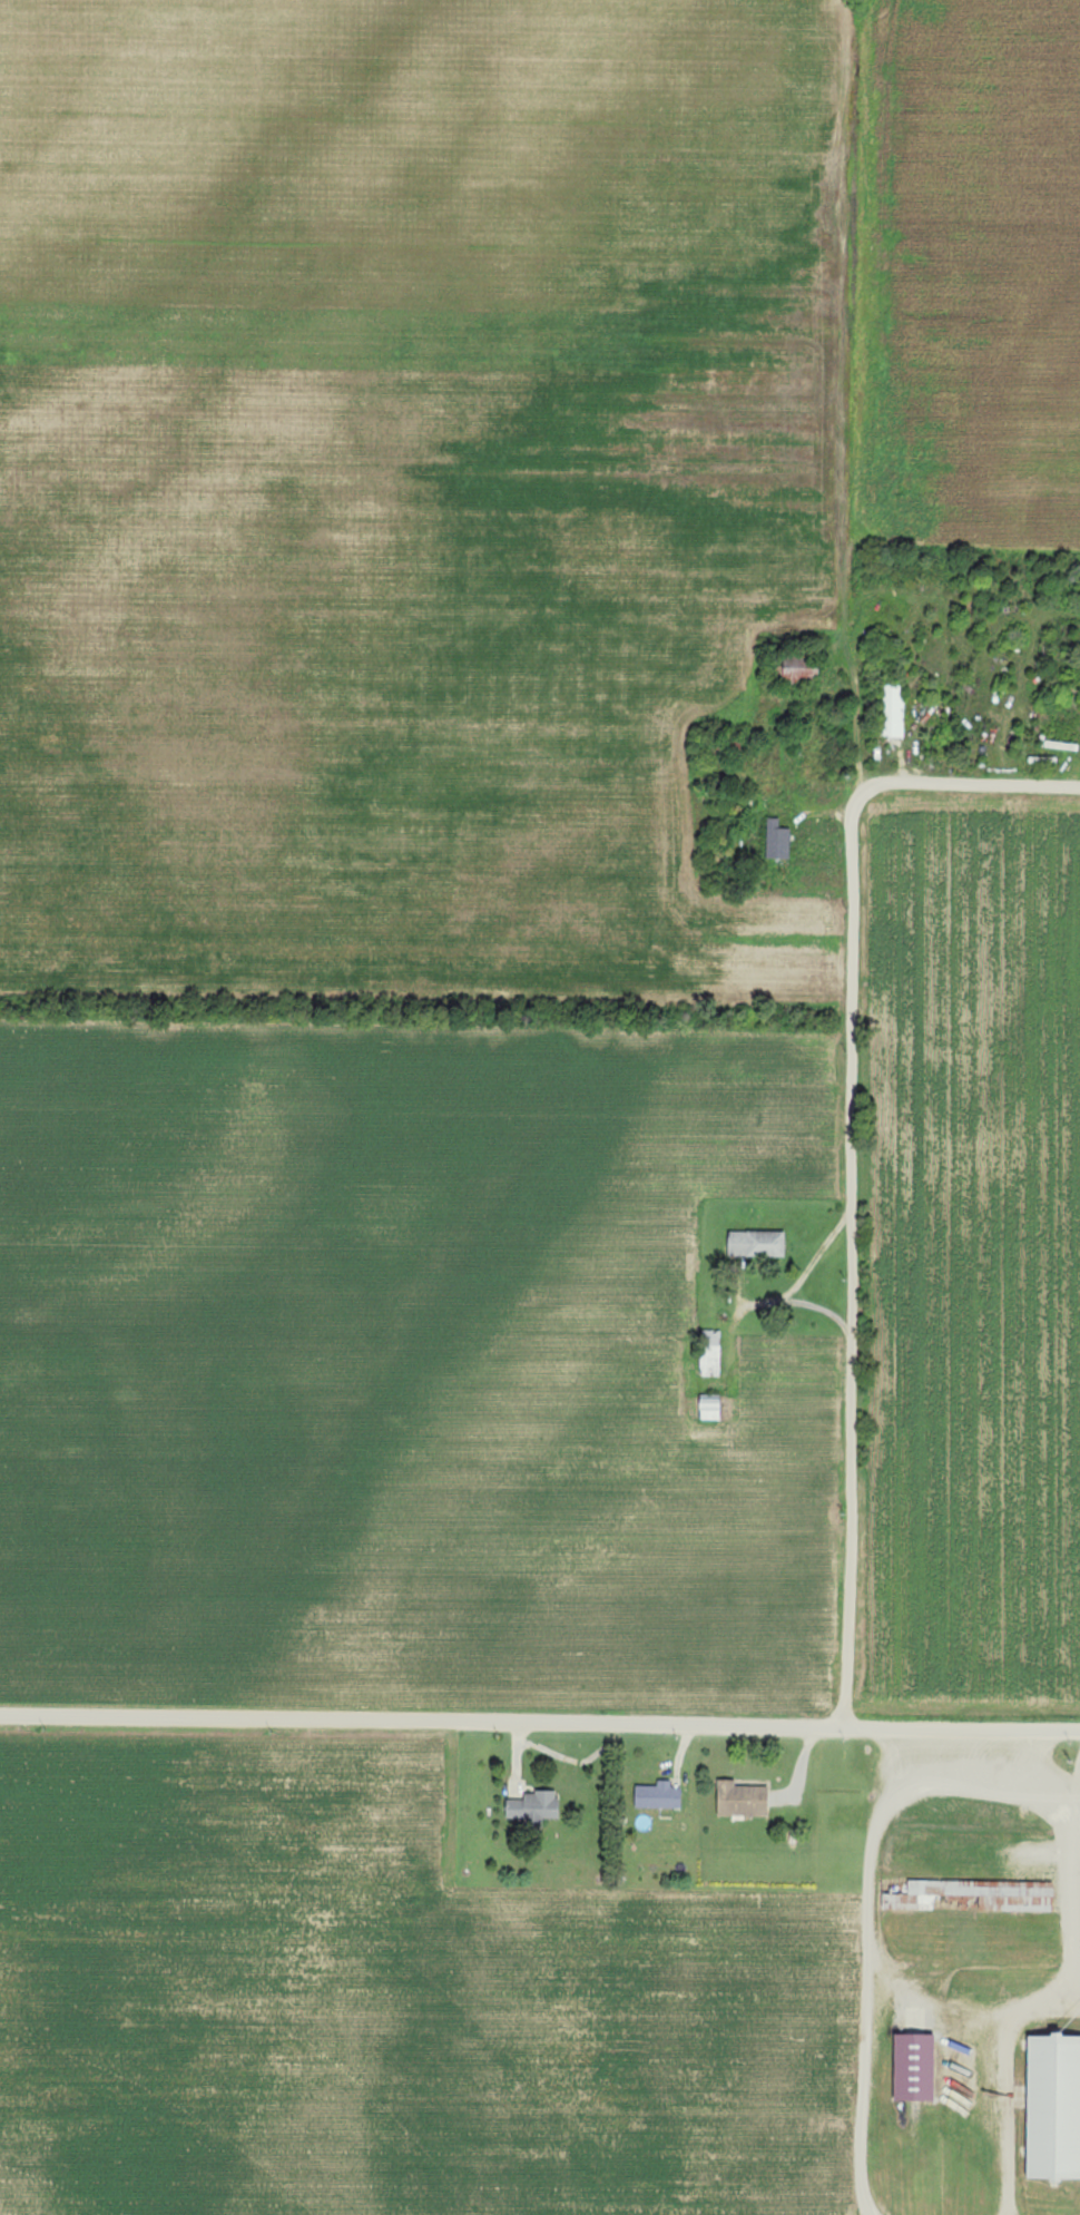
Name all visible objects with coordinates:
building: (801, 670)
building: (893, 710)
building: (777, 841)
road: (854, 1145)
building: (758, 1242)
building: (711, 1350)
building: (711, 1404)
road: (539, 1722)
building: (658, 1795)
building: (742, 1799)
building: (533, 1806)
building: (976, 1889)
road: (867, 1969)
road: (1010, 2042)
building: (914, 2067)
building: (1054, 2107)

